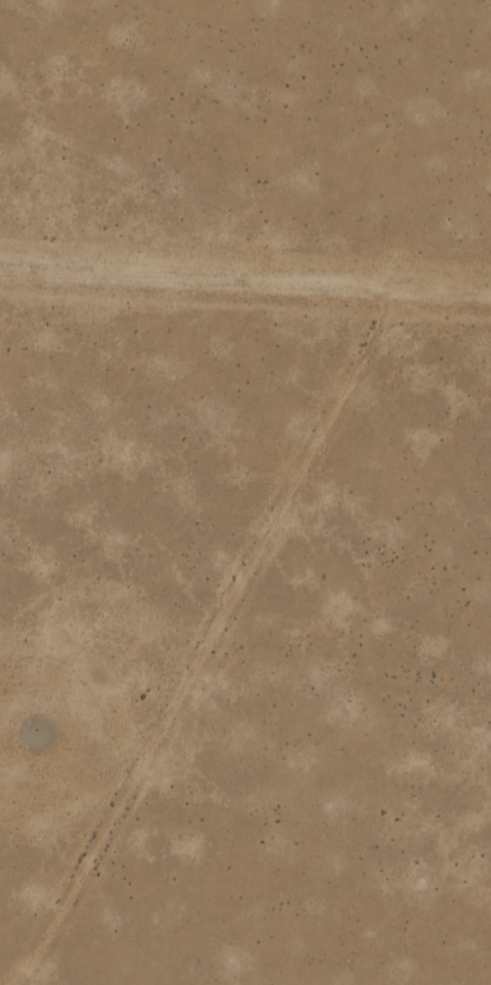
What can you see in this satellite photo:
airport runway: (245, 287)
road: (214, 641)

